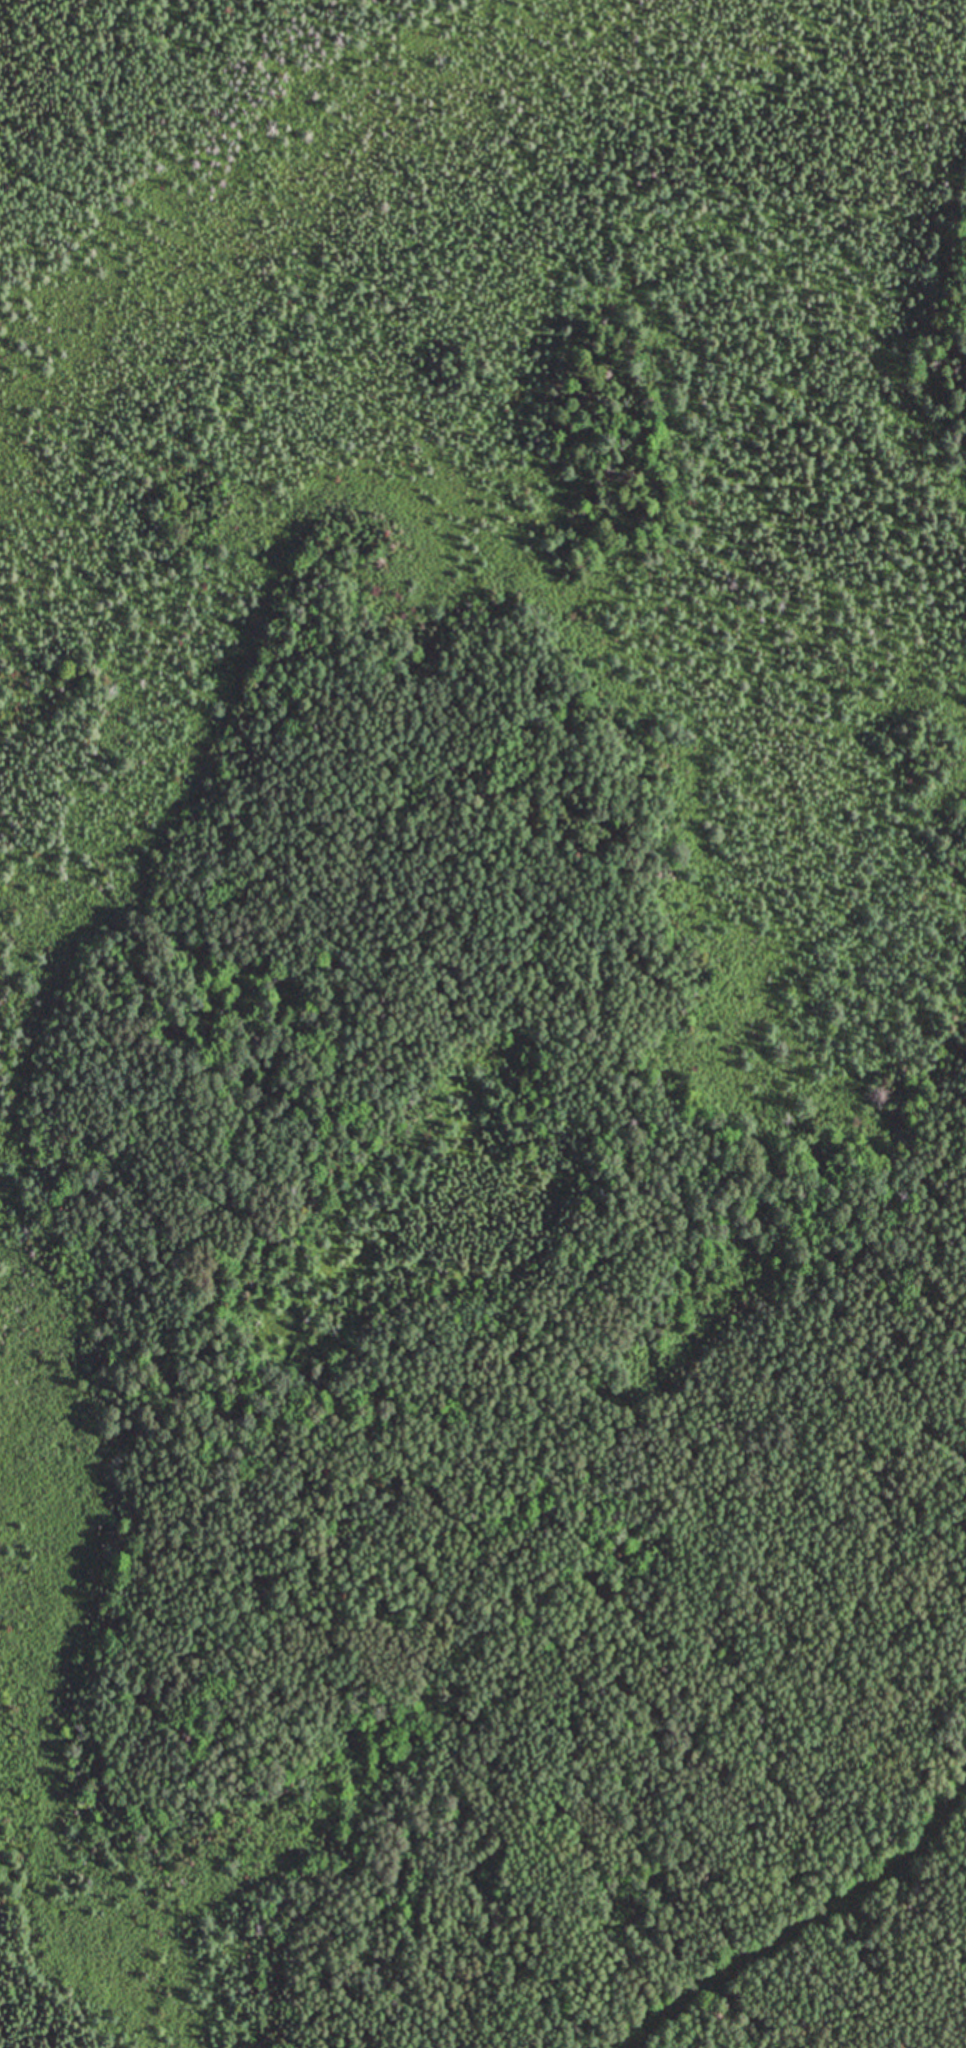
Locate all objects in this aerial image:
road: (807, 1919)

